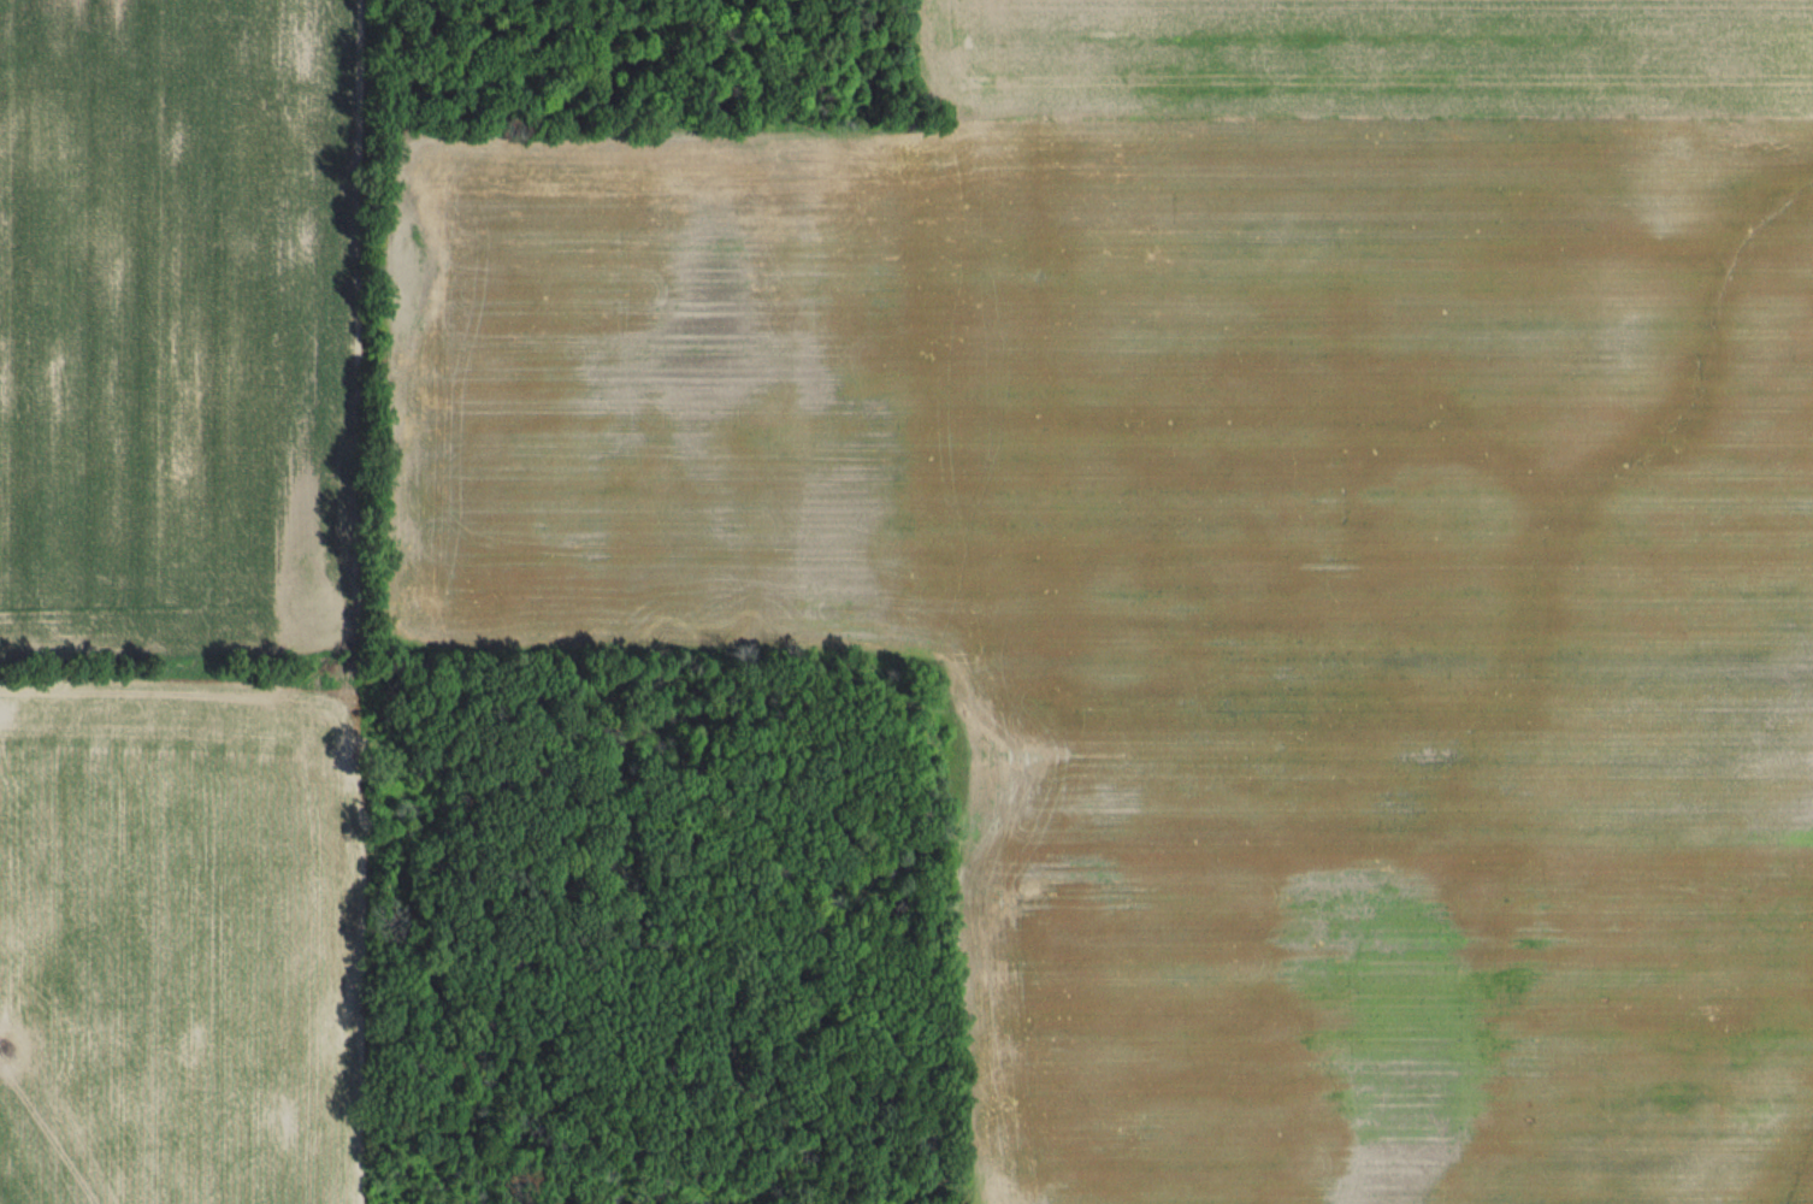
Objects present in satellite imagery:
crop: (178, 939)

